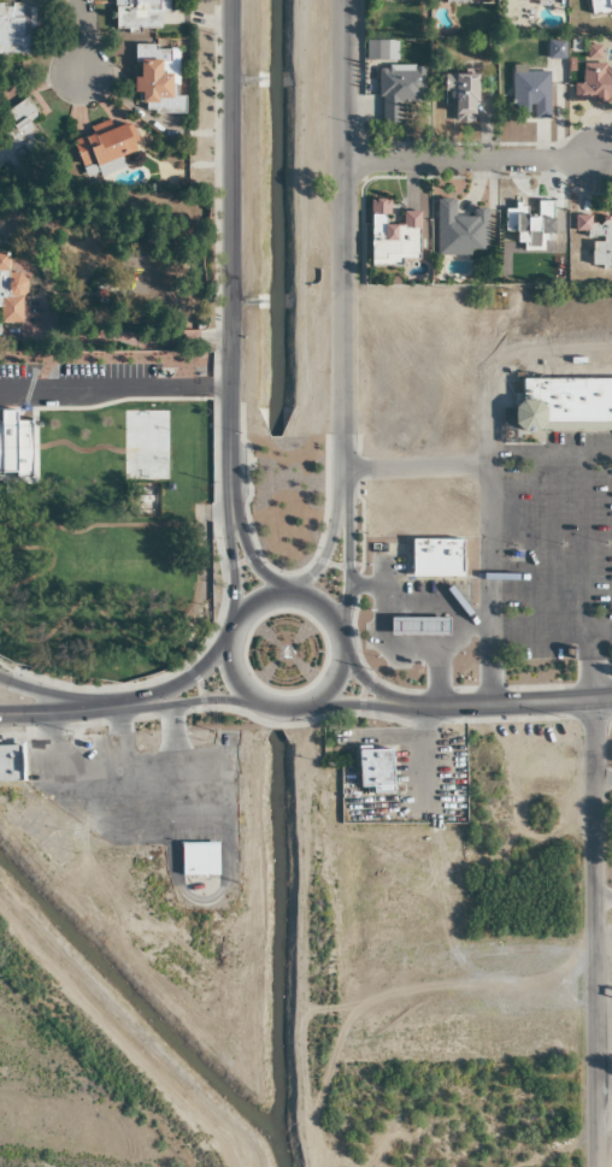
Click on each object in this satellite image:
building: (530, 0)
building: (598, 6)
building: (137, 13)
building: (18, 25)
road: (83, 37)
building: (379, 49)
building: (595, 77)
building: (157, 79)
building: (398, 89)
building: (529, 93)
building: (461, 98)
building: (18, 137)
building: (102, 145)
road: (470, 160)
building: (530, 226)
building: (458, 230)
building: (390, 234)
building: (596, 240)
road: (228, 242)
road: (342, 246)
building: (10, 295)
parking lot: (22, 372)
road: (113, 388)
building: (559, 413)
building: (104, 472)
road: (529, 506)
road: (482, 519)
building: (134, 540)
road: (245, 546)
road: (324, 549)
parking lot: (553, 554)
road: (228, 556)
building: (434, 558)
road: (346, 559)
road: (247, 608)
road: (325, 611)
road: (441, 614)
building: (417, 626)
road: (570, 635)
road: (583, 667)
road: (429, 668)
road: (230, 676)
road: (334, 683)
road: (169, 686)
road: (373, 690)
road: (51, 697)
road: (365, 703)
road: (517, 705)
road: (176, 706)
road: (277, 711)
road: (51, 712)
building: (10, 764)
building: (372, 768)
building: (198, 859)
road: (602, 898)
road: (594, 933)
road: (604, 1091)

